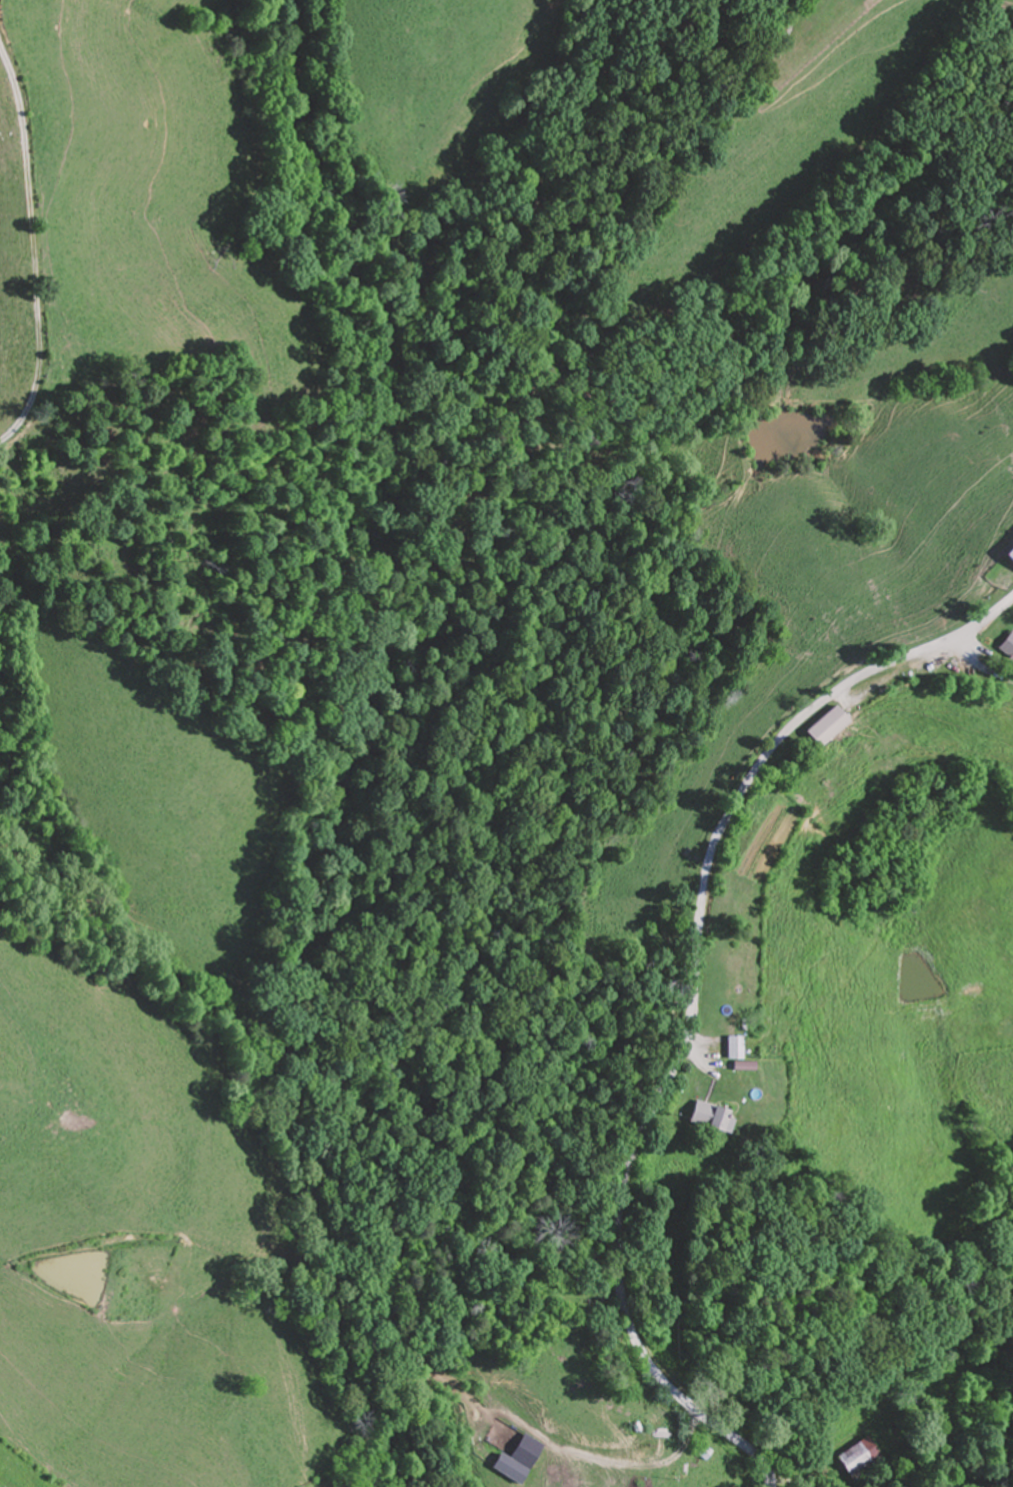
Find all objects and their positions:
road: (33, 244)
building: (1008, 553)
building: (1008, 650)
building: (824, 725)
building: (738, 979)
road: (696, 1004)
building: (732, 1047)
building: (711, 1117)
building: (702, 1452)
building: (862, 1459)
building: (509, 1468)

